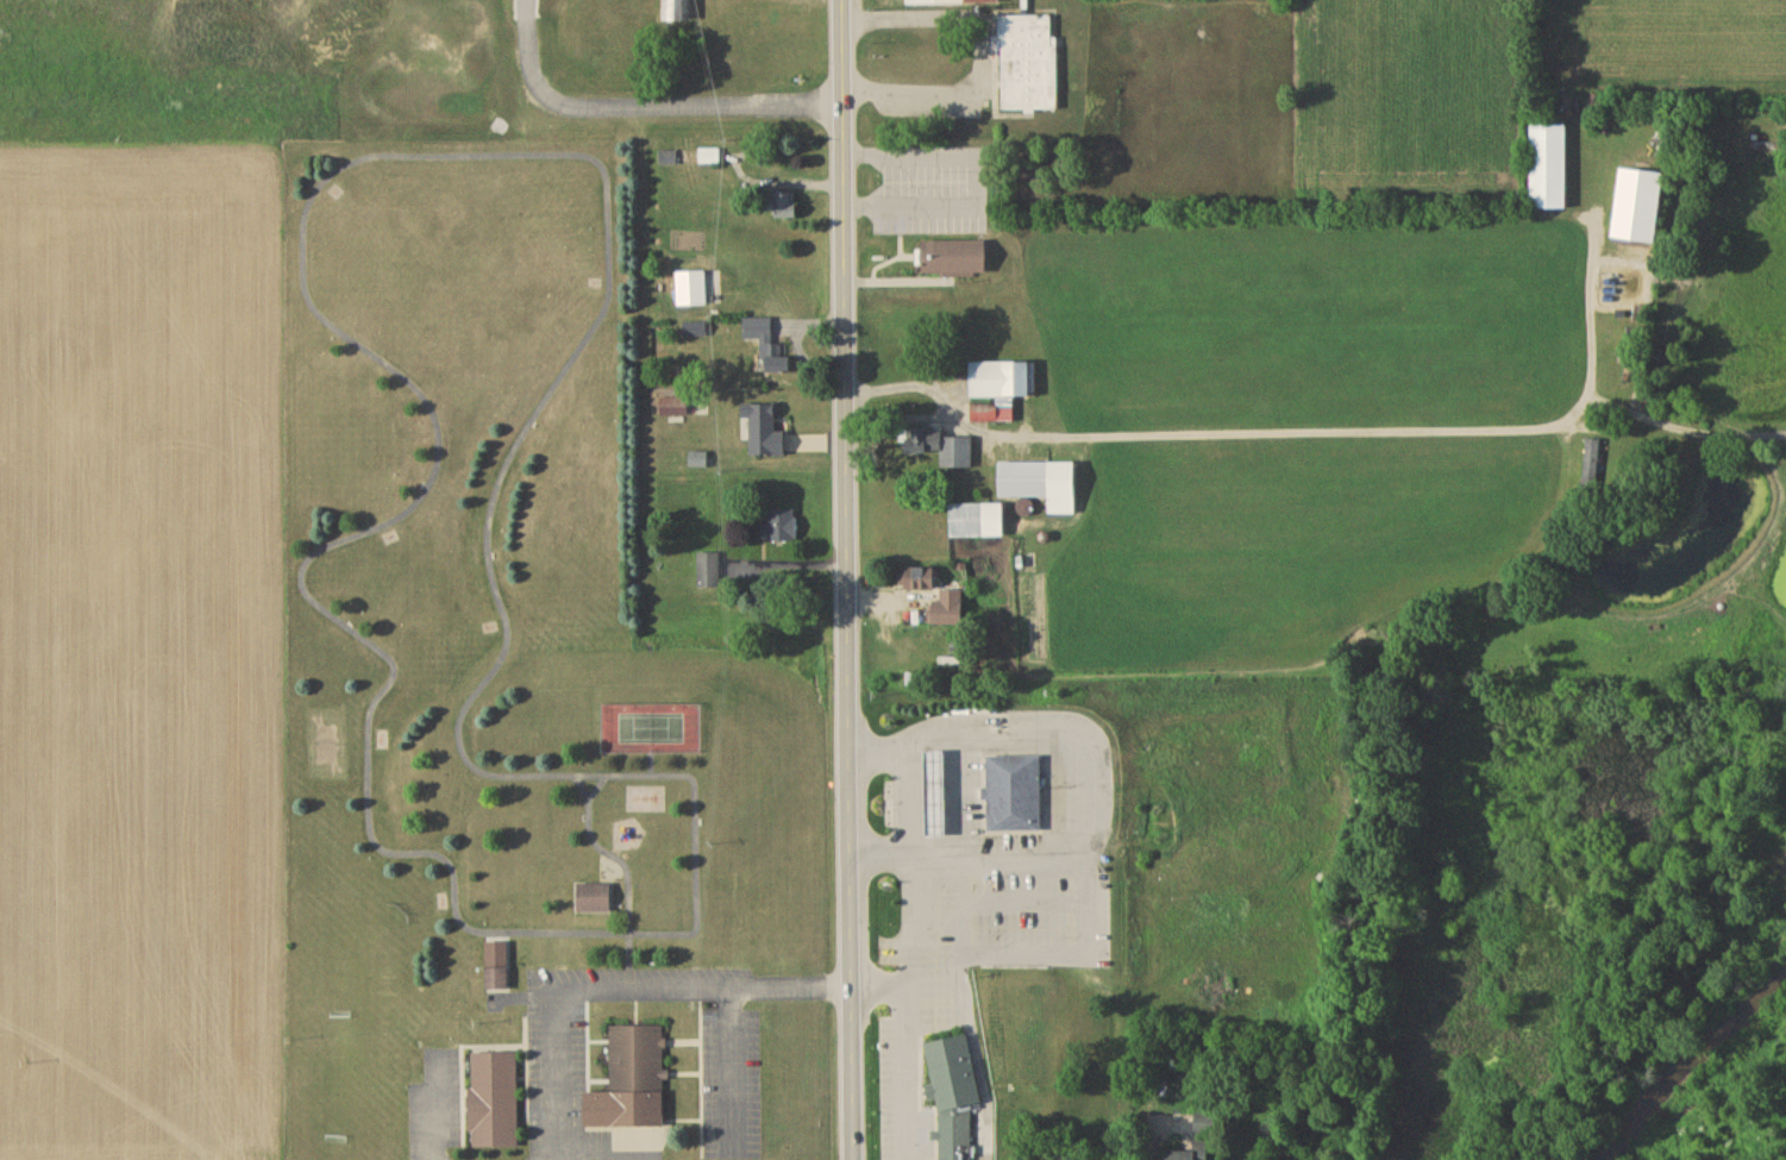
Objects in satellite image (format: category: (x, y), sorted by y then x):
building: (952, 4)
building: (676, 11)
road: (984, 63)
building: (1029, 67)
road: (646, 104)
road: (408, 156)
building: (709, 158)
road: (985, 163)
building: (1550, 169)
building: (785, 207)
building: (955, 261)
building: (691, 291)
building: (696, 332)
building: (767, 346)
building: (1001, 383)
building: (675, 409)
building: (992, 416)
road: (1684, 432)
road: (1295, 437)
building: (945, 451)
building: (785, 458)
building: (700, 463)
building: (1592, 469)
building: (1041, 487)
building: (978, 523)
building: (783, 528)
building: (709, 573)
road: (847, 579)
building: (919, 582)
building: (950, 612)
park: (499, 635)
road: (1078, 792)
building: (938, 795)
building: (1015, 795)
road: (697, 885)
building: (594, 901)
road: (1033, 954)
building: (497, 968)
road: (803, 983)
road: (665, 985)
road: (911, 1041)
road: (556, 1068)
building: (632, 1084)
building: (495, 1103)
road: (435, 1114)
road: (1153, 1134)
parking lot: (560, 1136)
building: (955, 1136)
building: (1201, 1139)
road: (595, 1156)

